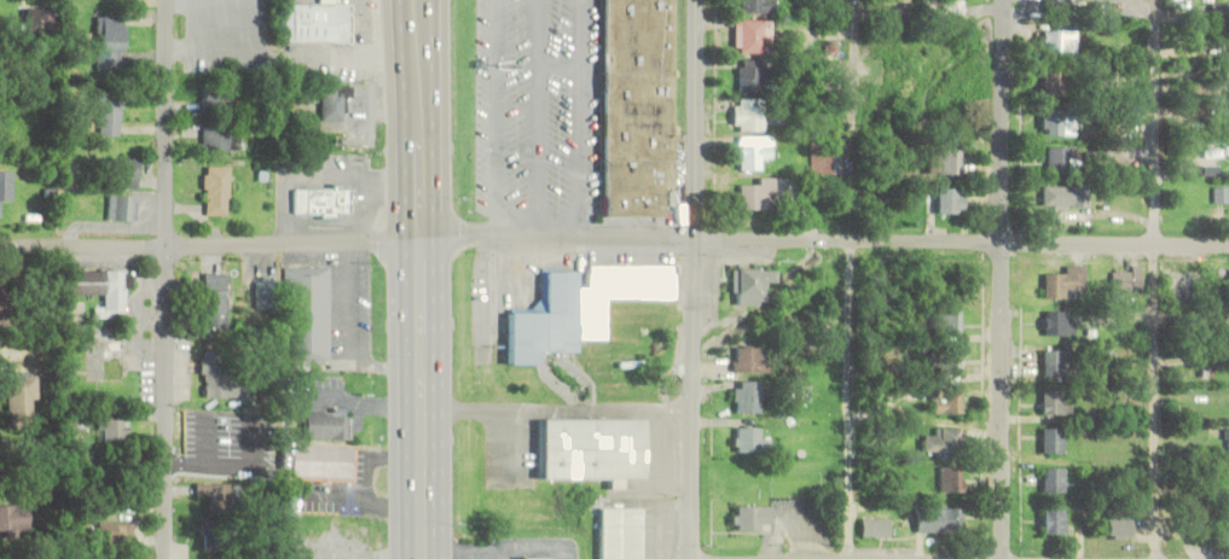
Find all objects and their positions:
building: (754, 6)
building: (943, 7)
building: (1060, 7)
building: (1218, 12)
building: (44, 19)
building: (318, 23)
road: (421, 31)
building: (752, 35)
building: (1057, 42)
building: (111, 43)
road: (562, 68)
building: (750, 76)
building: (1054, 82)
building: (8, 98)
building: (218, 101)
building: (336, 103)
building: (639, 105)
building: (110, 115)
road: (500, 118)
road: (538, 118)
building: (748, 118)
road: (585, 120)
road: (697, 121)
building: (1055, 124)
building: (221, 138)
building: (752, 151)
road: (423, 152)
building: (1213, 152)
building: (827, 158)
building: (1057, 158)
building: (945, 161)
building: (124, 173)
building: (6, 187)
building: (216, 190)
building: (759, 193)
building: (1222, 194)
building: (1065, 196)
building: (946, 199)
building: (324, 202)
building: (122, 208)
road: (614, 239)
road: (166, 279)
road: (852, 279)
road: (1001, 279)
road: (1155, 279)
building: (614, 281)
building: (1127, 281)
building: (1066, 283)
building: (753, 284)
building: (100, 289)
building: (215, 299)
building: (5, 301)
road: (424, 302)
building: (307, 314)
building: (546, 321)
building: (949, 321)
building: (1057, 322)
building: (753, 360)
building: (945, 361)
building: (1059, 361)
building: (222, 377)
building: (749, 396)
building: (23, 398)
road: (697, 400)
building: (947, 401)
building: (1057, 402)
building: (327, 424)
building: (112, 430)
building: (1054, 439)
building: (752, 441)
building: (944, 441)
building: (1228, 442)
building: (596, 449)
building: (321, 460)
road: (423, 461)
building: (1054, 479)
building: (951, 481)
building: (216, 497)
building: (15, 518)
building: (753, 518)
building: (1054, 520)
building: (939, 522)
building: (1119, 526)
building: (875, 528)
building: (115, 532)
building: (624, 532)
building: (216, 542)
building: (539, 557)

